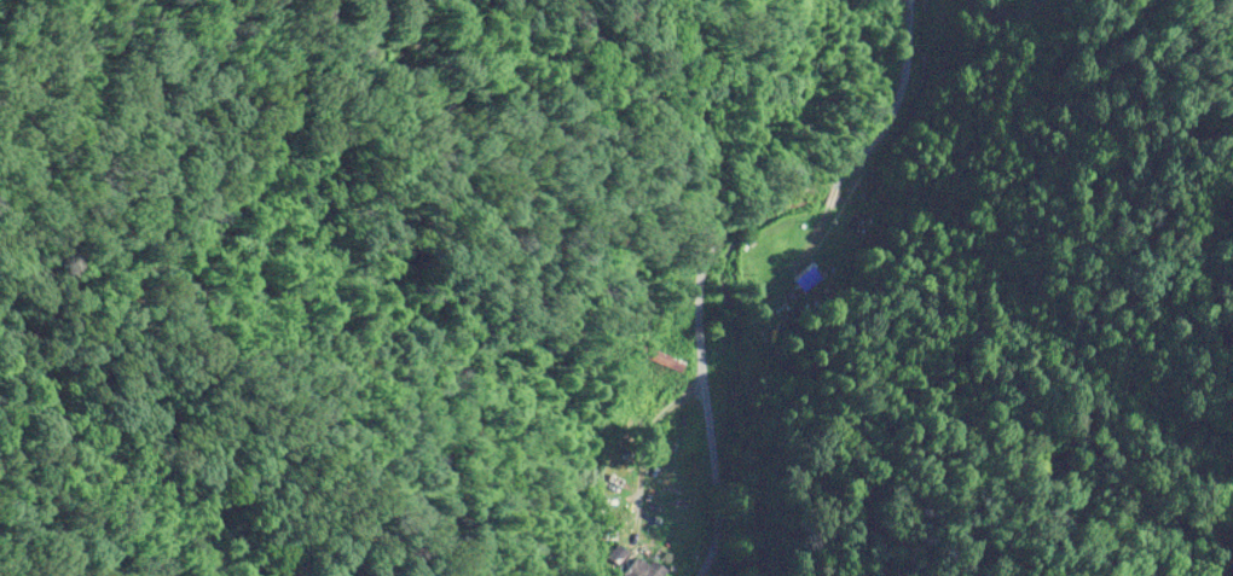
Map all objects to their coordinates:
road: (775, 264)
building: (805, 278)
building: (665, 359)
building: (643, 569)

